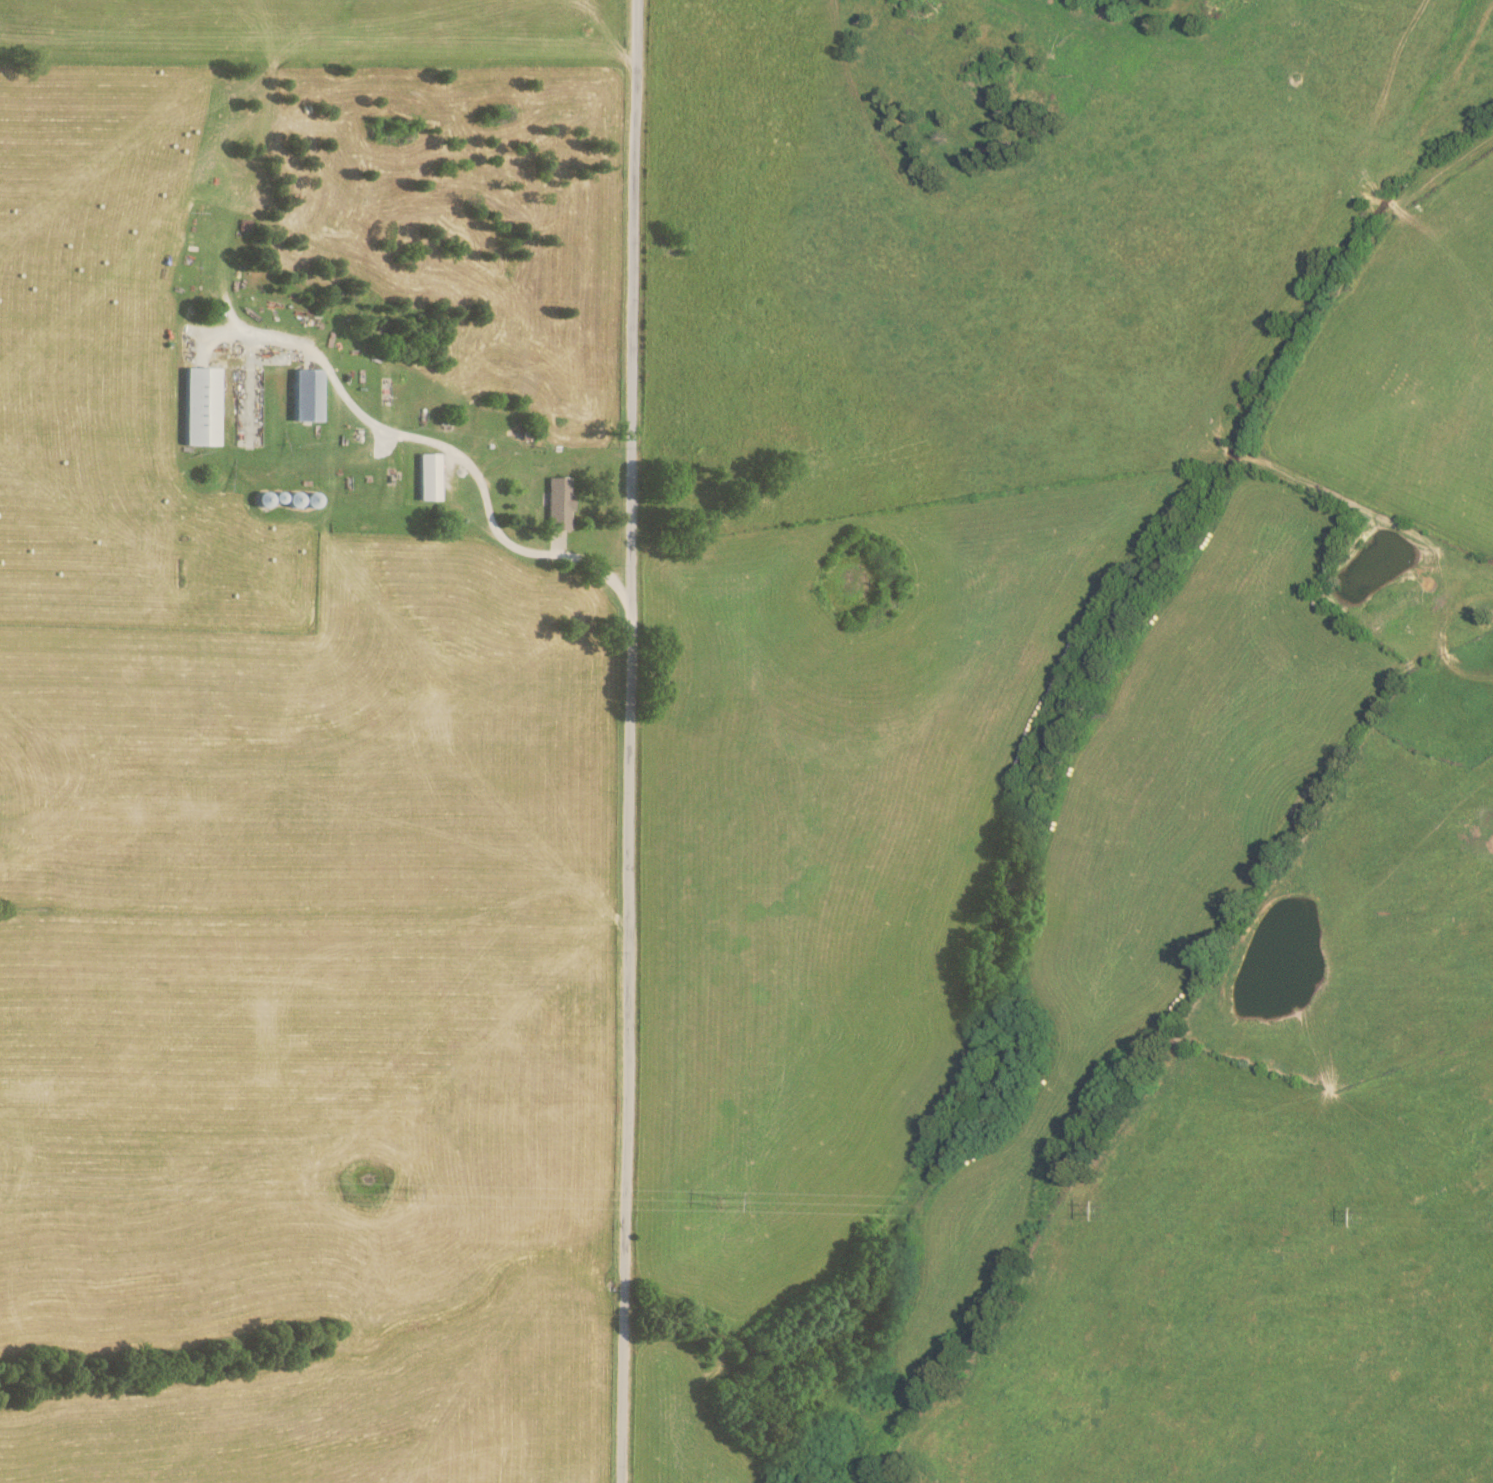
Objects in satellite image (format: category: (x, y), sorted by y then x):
building: (300, 396)
building: (194, 407)
road: (395, 435)
building: (423, 477)
building: (554, 504)
road: (597, 567)
road: (631, 741)
power tower: (404, 1198)
power tower: (714, 1200)

